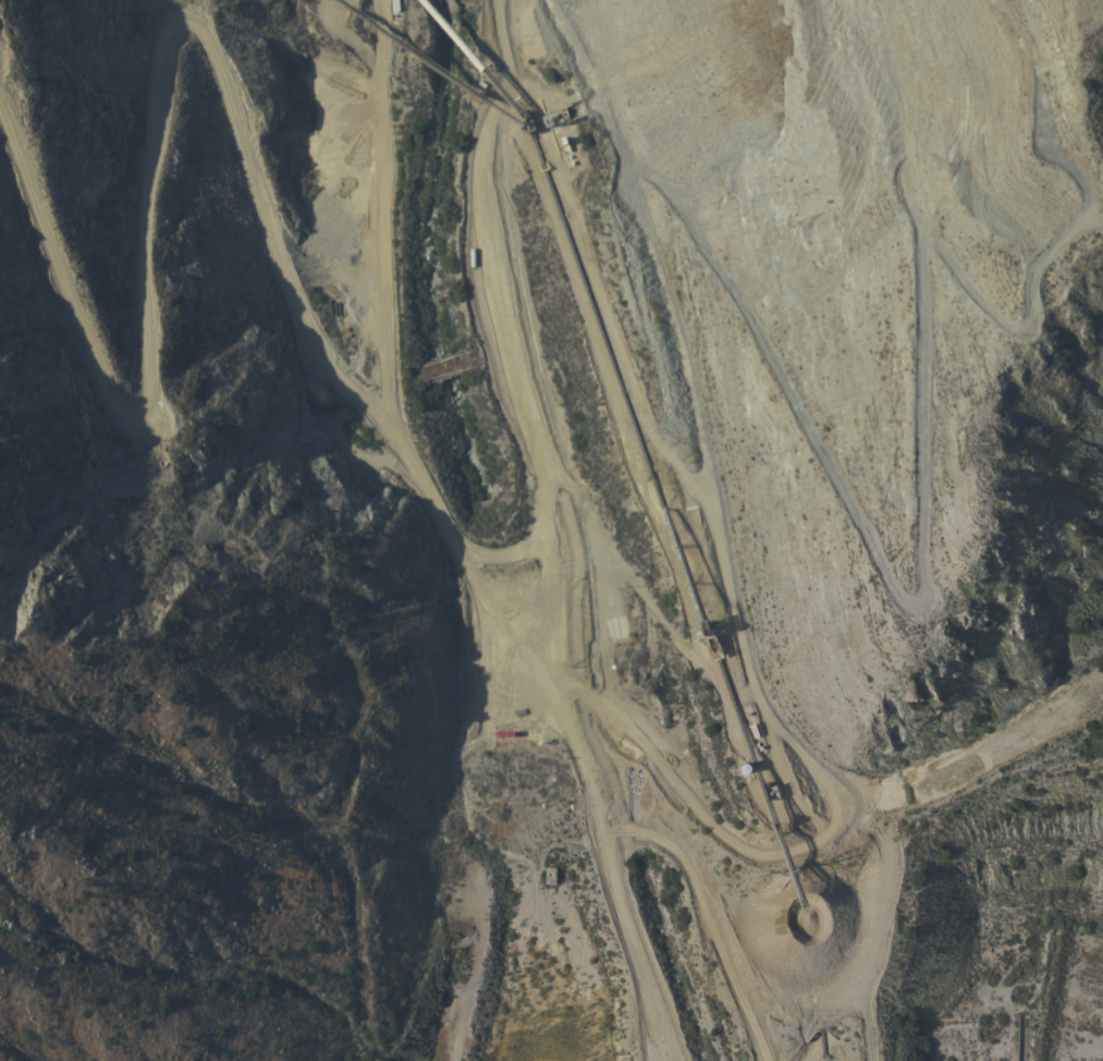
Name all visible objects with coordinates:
road: (591, 33)
road: (501, 49)
building: (1000, 278)
building: (617, 332)
road: (799, 437)
road: (532, 481)
quarry: (565, 514)
road: (564, 523)
building: (550, 875)

